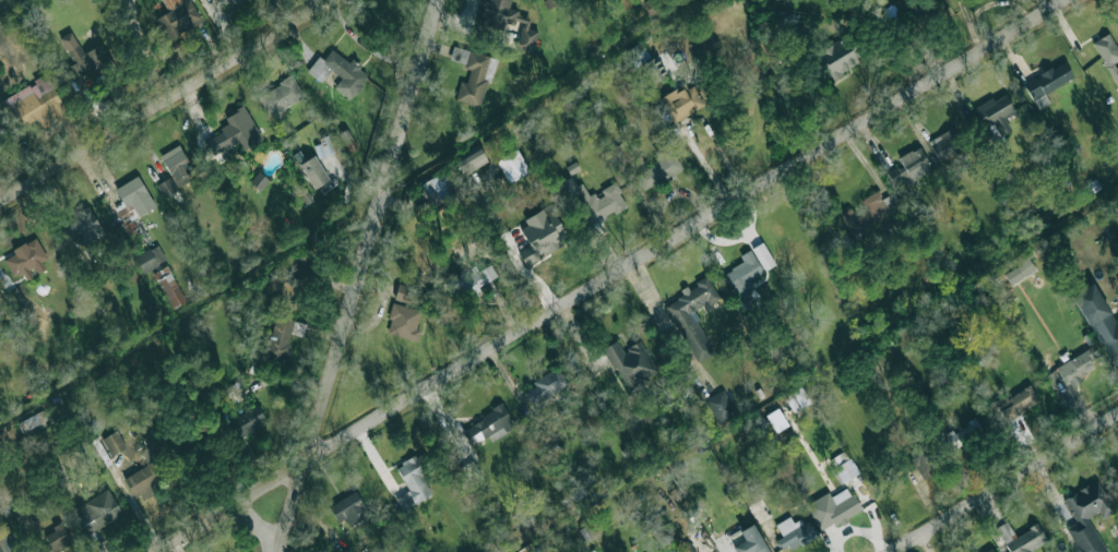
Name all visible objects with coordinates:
building: (224, 2)
building: (177, 17)
building: (495, 26)
building: (1108, 53)
building: (837, 57)
building: (85, 58)
building: (646, 62)
building: (338, 72)
building: (473, 75)
building: (1046, 83)
road: (157, 95)
building: (281, 95)
building: (682, 100)
building: (35, 104)
building: (996, 113)
building: (234, 132)
building: (0, 139)
building: (348, 140)
building: (945, 143)
building: (323, 147)
building: (472, 161)
building: (176, 165)
building: (512, 166)
building: (658, 168)
building: (909, 168)
building: (313, 171)
building: (259, 181)
building: (166, 187)
building: (438, 188)
building: (134, 197)
building: (593, 199)
building: (868, 211)
building: (80, 228)
building: (540, 236)
building: (763, 256)
building: (150, 259)
building: (26, 260)
building: (1019, 271)
road: (604, 275)
road: (354, 276)
building: (744, 276)
building: (476, 283)
building: (169, 286)
building: (288, 286)
building: (403, 292)
building: (14, 299)
building: (692, 316)
building: (1098, 321)
building: (403, 322)
building: (278, 338)
building: (631, 363)
building: (1077, 368)
building: (545, 385)
building: (238, 393)
building: (796, 399)
building: (1016, 403)
building: (721, 406)
building: (38, 420)
building: (247, 421)
building: (488, 425)
building: (964, 434)
building: (114, 443)
building: (838, 458)
building: (924, 460)
building: (846, 469)
building: (1116, 473)
building: (415, 475)
building: (143, 480)
road: (1000, 481)
building: (348, 508)
building: (832, 508)
building: (97, 511)
building: (760, 511)
building: (1087, 516)
road: (251, 524)
building: (793, 532)
building: (1021, 538)
building: (8, 539)
building: (749, 541)
building: (685, 548)
building: (989, 550)

